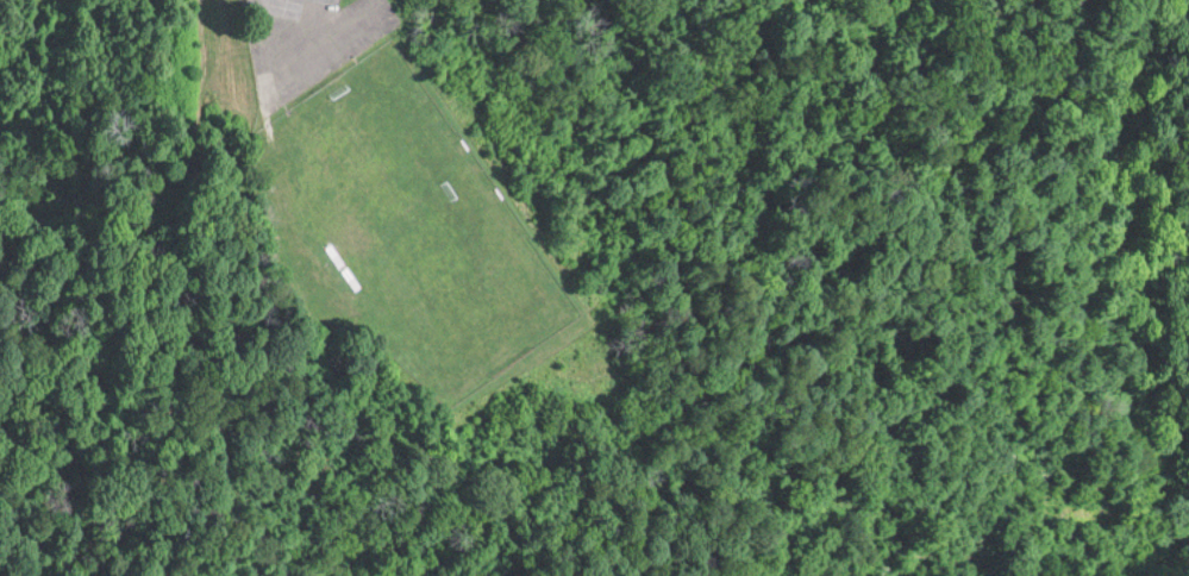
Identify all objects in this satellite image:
road: (317, 24)
road: (289, 61)
park: (411, 225)

